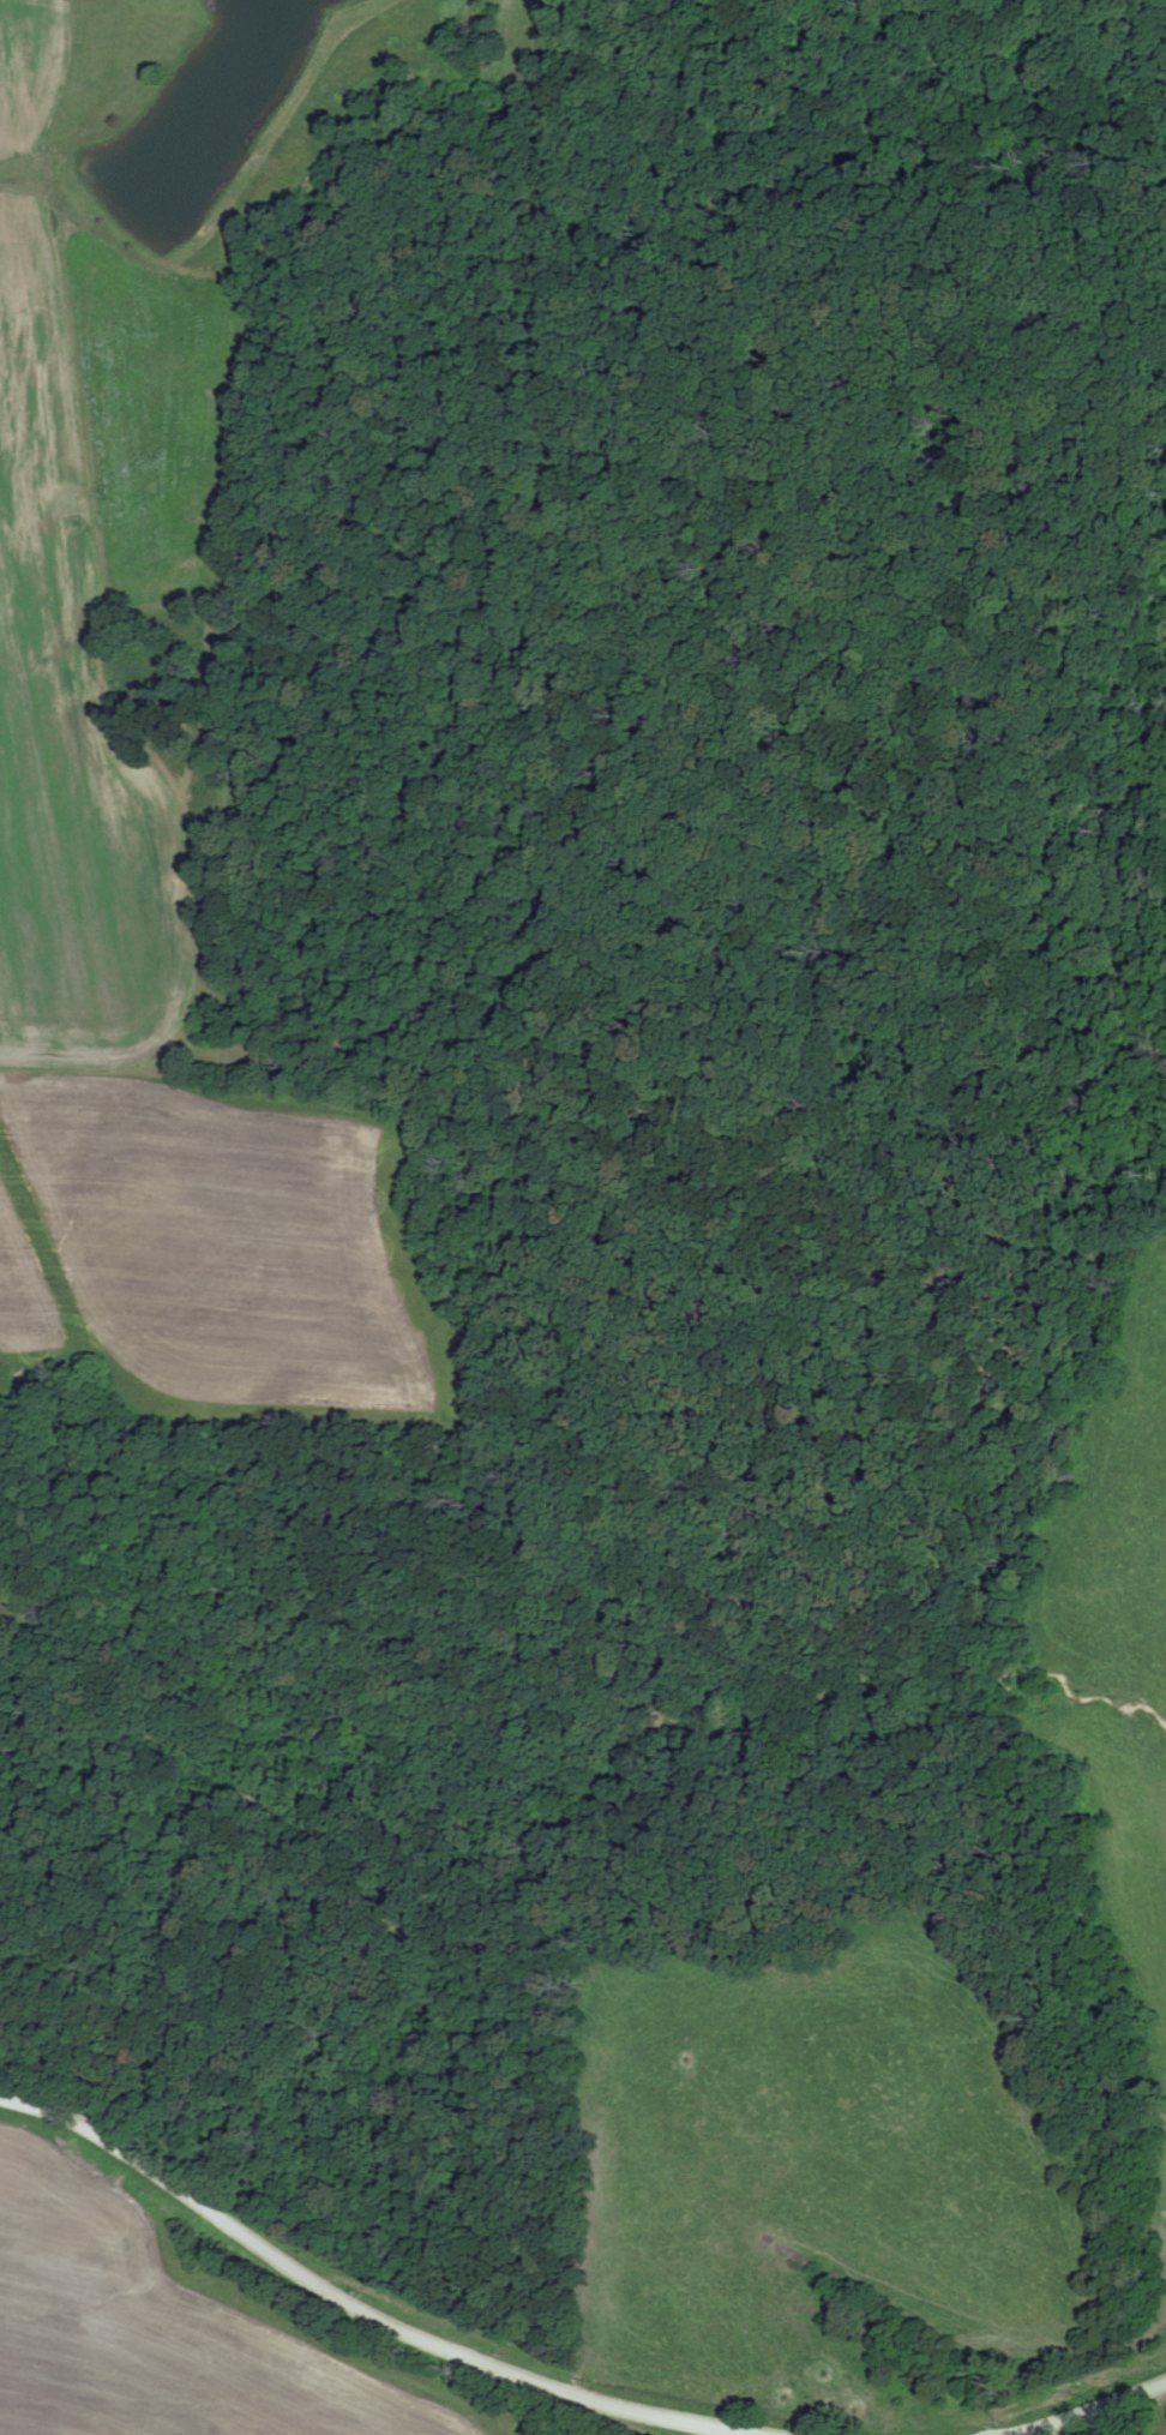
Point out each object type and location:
road: (348, 2305)
road: (1104, 2413)

